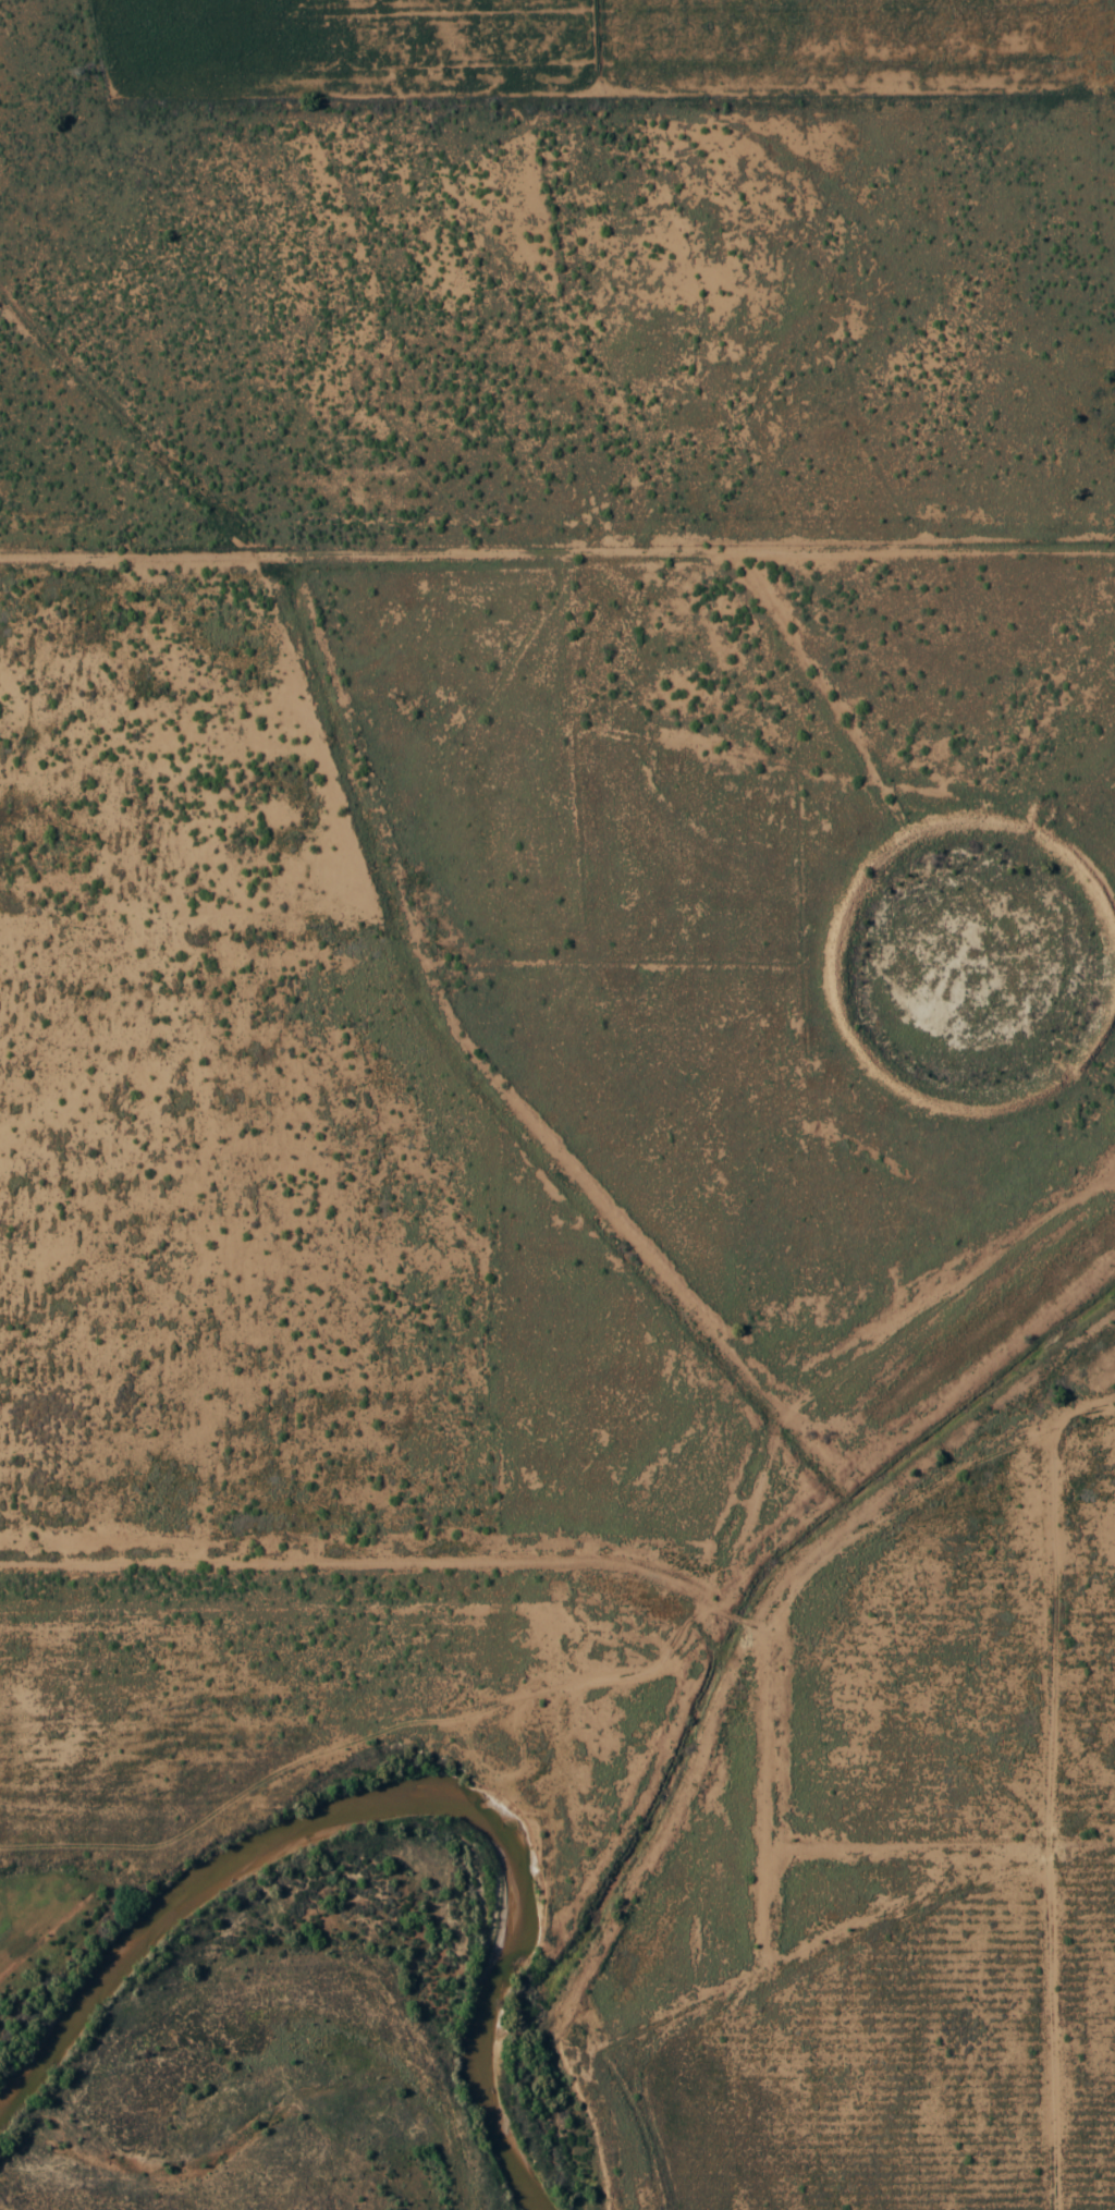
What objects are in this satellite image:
river: (394, 1803)

